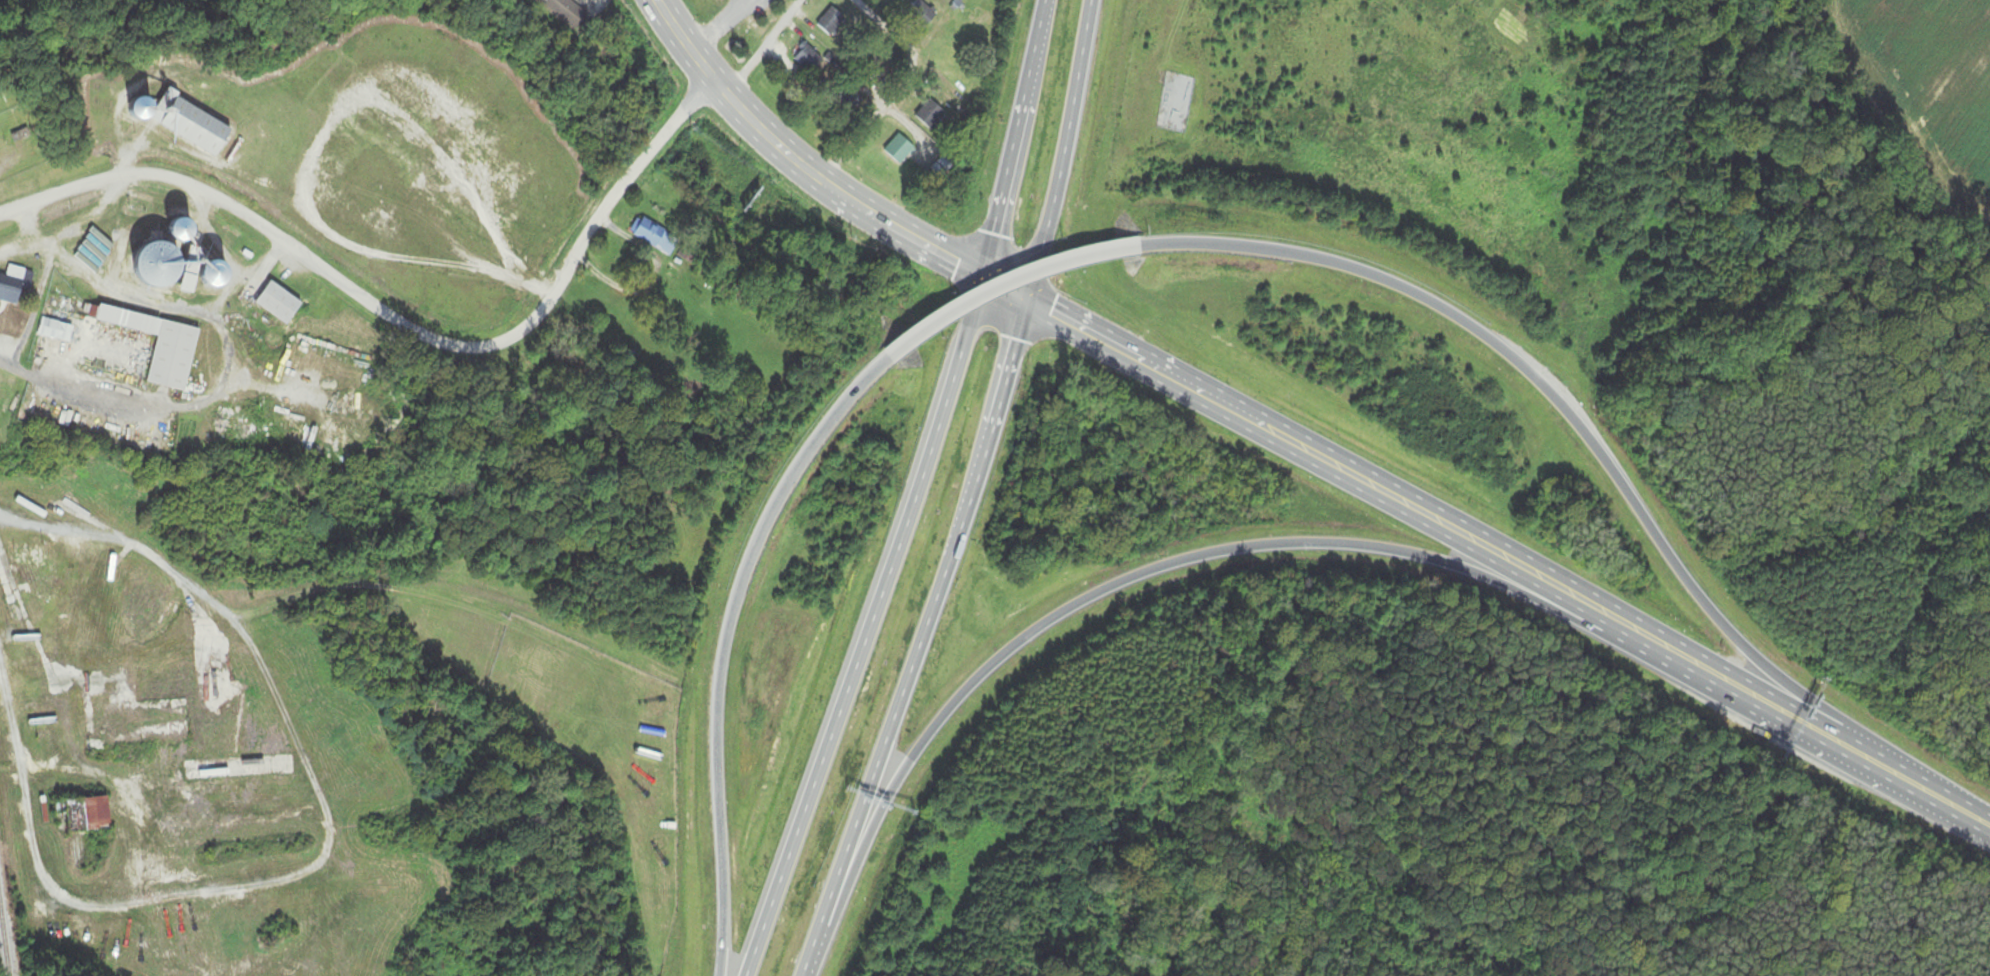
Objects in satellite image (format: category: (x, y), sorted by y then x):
building: (567, 11)
building: (922, 14)
building: (831, 24)
road: (714, 25)
road: (764, 48)
building: (808, 60)
road: (899, 91)
road: (727, 97)
building: (930, 115)
park: (1373, 120)
building: (188, 124)
building: (21, 136)
road: (1008, 138)
road: (1057, 150)
building: (899, 151)
road: (70, 223)
road: (895, 228)
building: (175, 229)
silo: (175, 229)
road: (215, 237)
building: (655, 237)
building: (151, 263)
silo: (151, 263)
building: (210, 273)
silo: (210, 273)
traffic signals: (973, 277)
road: (1009, 284)
building: (7, 288)
road: (37, 288)
traffic signals: (1023, 300)
building: (274, 302)
road: (170, 307)
building: (124, 320)
road: (400, 324)
building: (46, 328)
building: (169, 355)
road: (1208, 402)
road: (156, 406)
road: (1564, 406)
building: (28, 560)
road: (1501, 563)
road: (1130, 579)
road: (934, 597)
road: (864, 628)
road: (725, 642)
road: (1711, 678)
road: (1926, 795)
building: (90, 815)
road: (824, 935)
railway: (3, 944)

